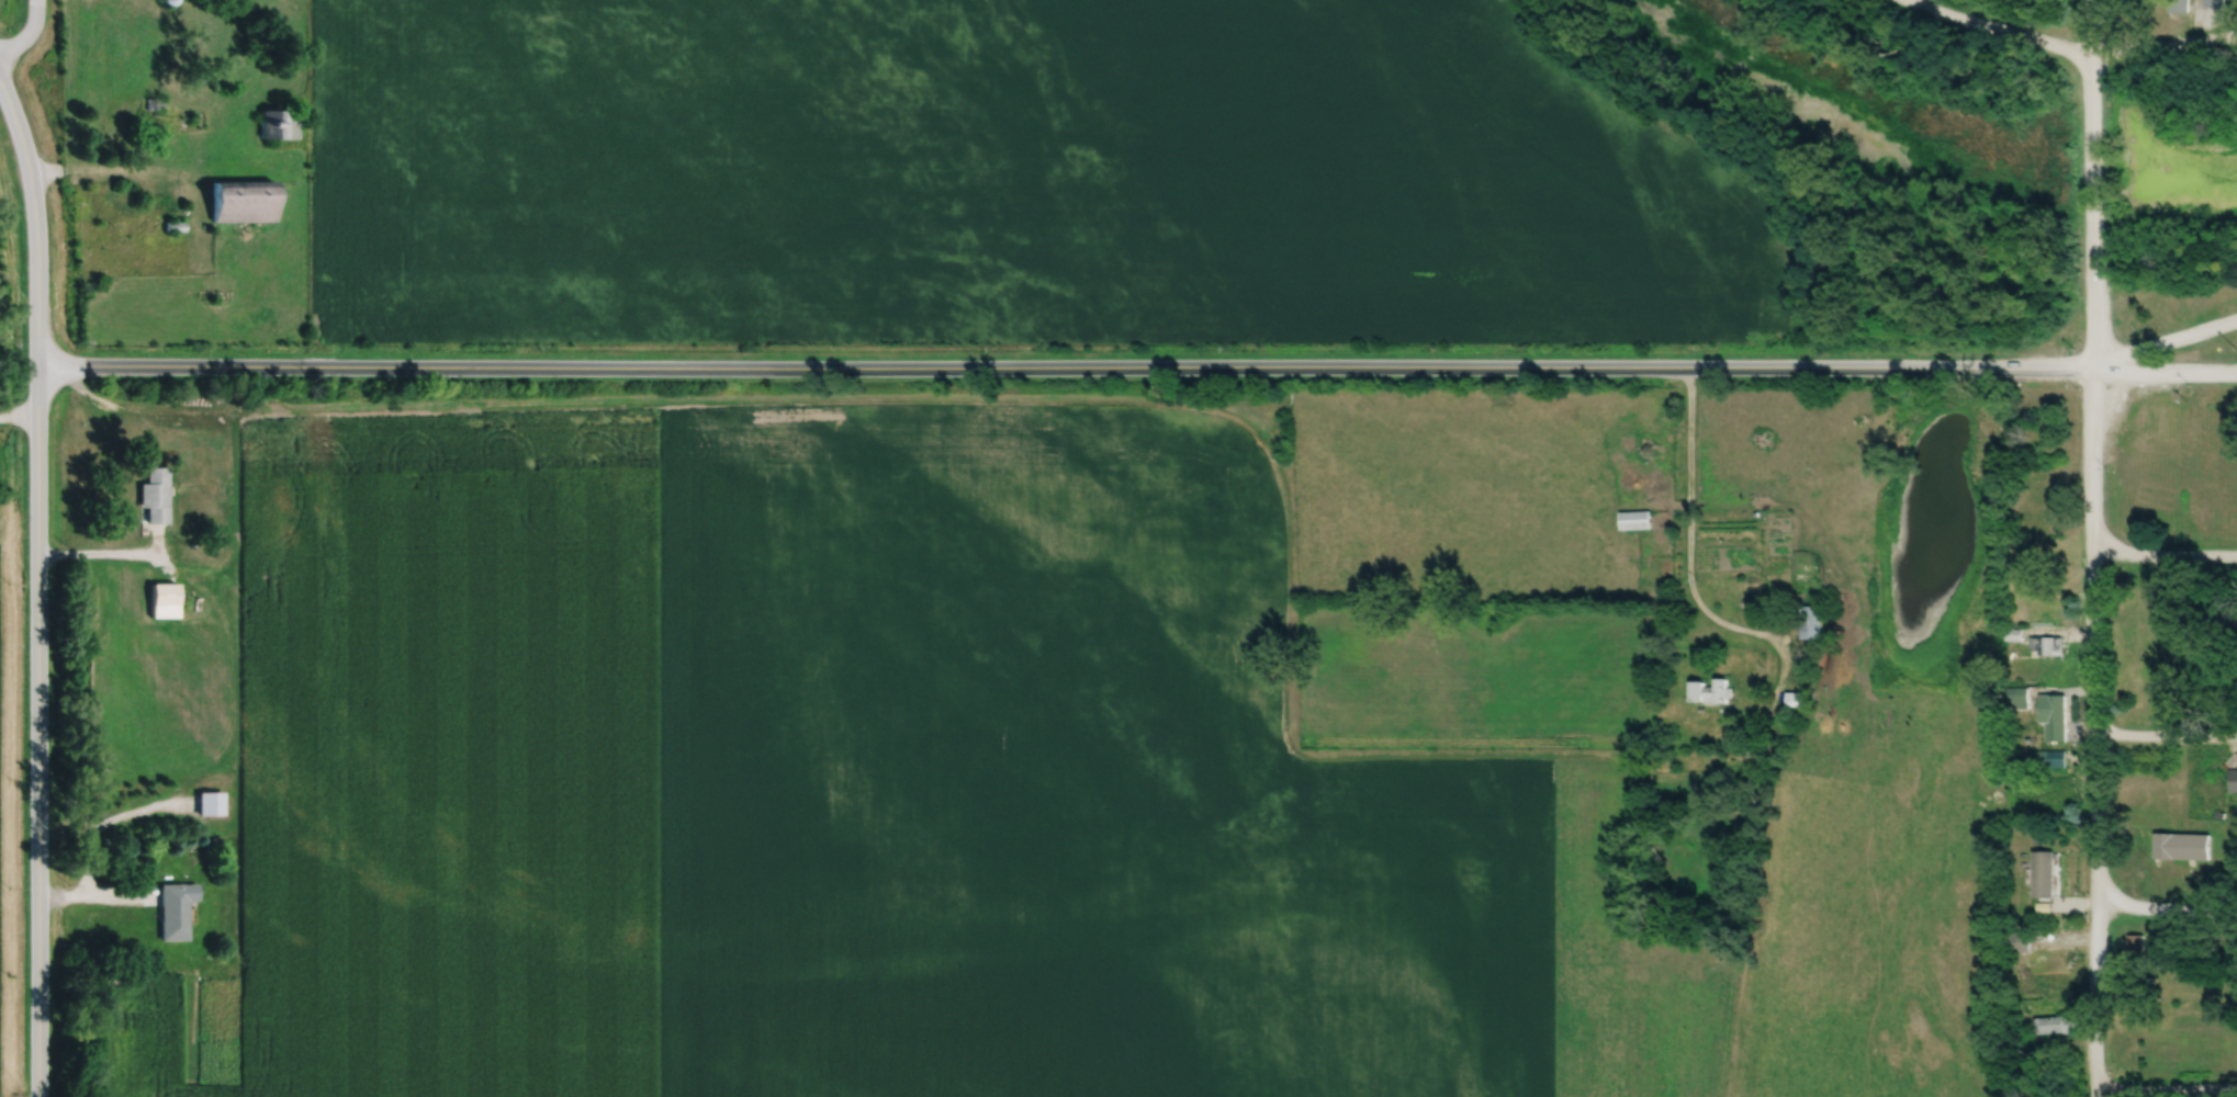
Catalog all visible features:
road: (31, 36)
road: (2066, 49)
building: (157, 105)
building: (282, 127)
road: (112, 169)
building: (245, 206)
road: (2168, 344)
road: (1138, 369)
road: (20, 416)
building: (2156, 432)
building: (157, 497)
building: (2041, 500)
building: (1637, 522)
road: (1686, 531)
road: (2094, 547)
road: (2166, 553)
road: (40, 585)
building: (2017, 586)
building: (166, 595)
building: (2049, 611)
building: (1812, 623)
building: (2048, 647)
building: (1712, 693)
building: (2020, 700)
building: (1796, 701)
building: (2055, 717)
road: (2167, 735)
building: (2057, 761)
building: (2234, 780)
building: (2184, 848)
building: (2046, 875)
road: (98, 896)
road: (2166, 905)
building: (175, 914)
building: (2021, 943)
building: (2051, 965)
building: (2057, 1027)
road: (2166, 1087)

